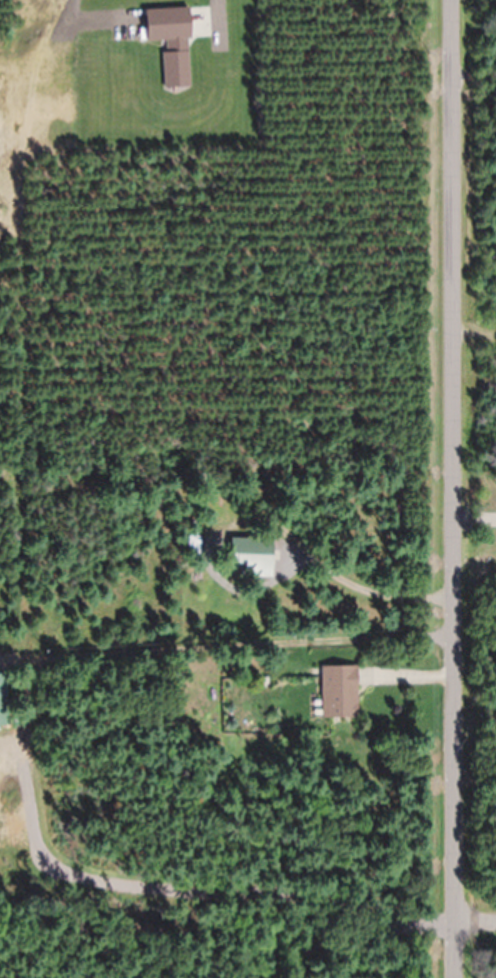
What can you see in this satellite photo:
road: (218, 20)
road: (451, 488)
building: (250, 557)
building: (338, 692)
building: (3, 702)
road: (475, 925)

